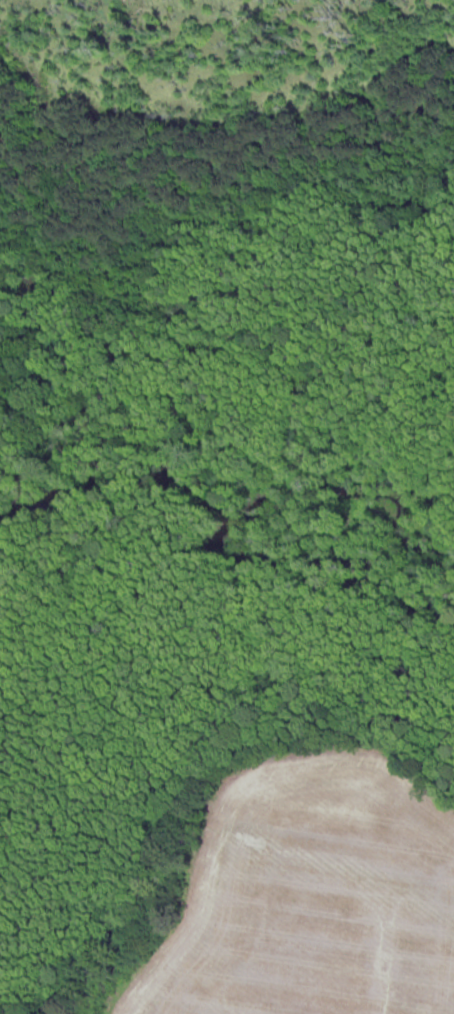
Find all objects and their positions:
park: (165, 729)

